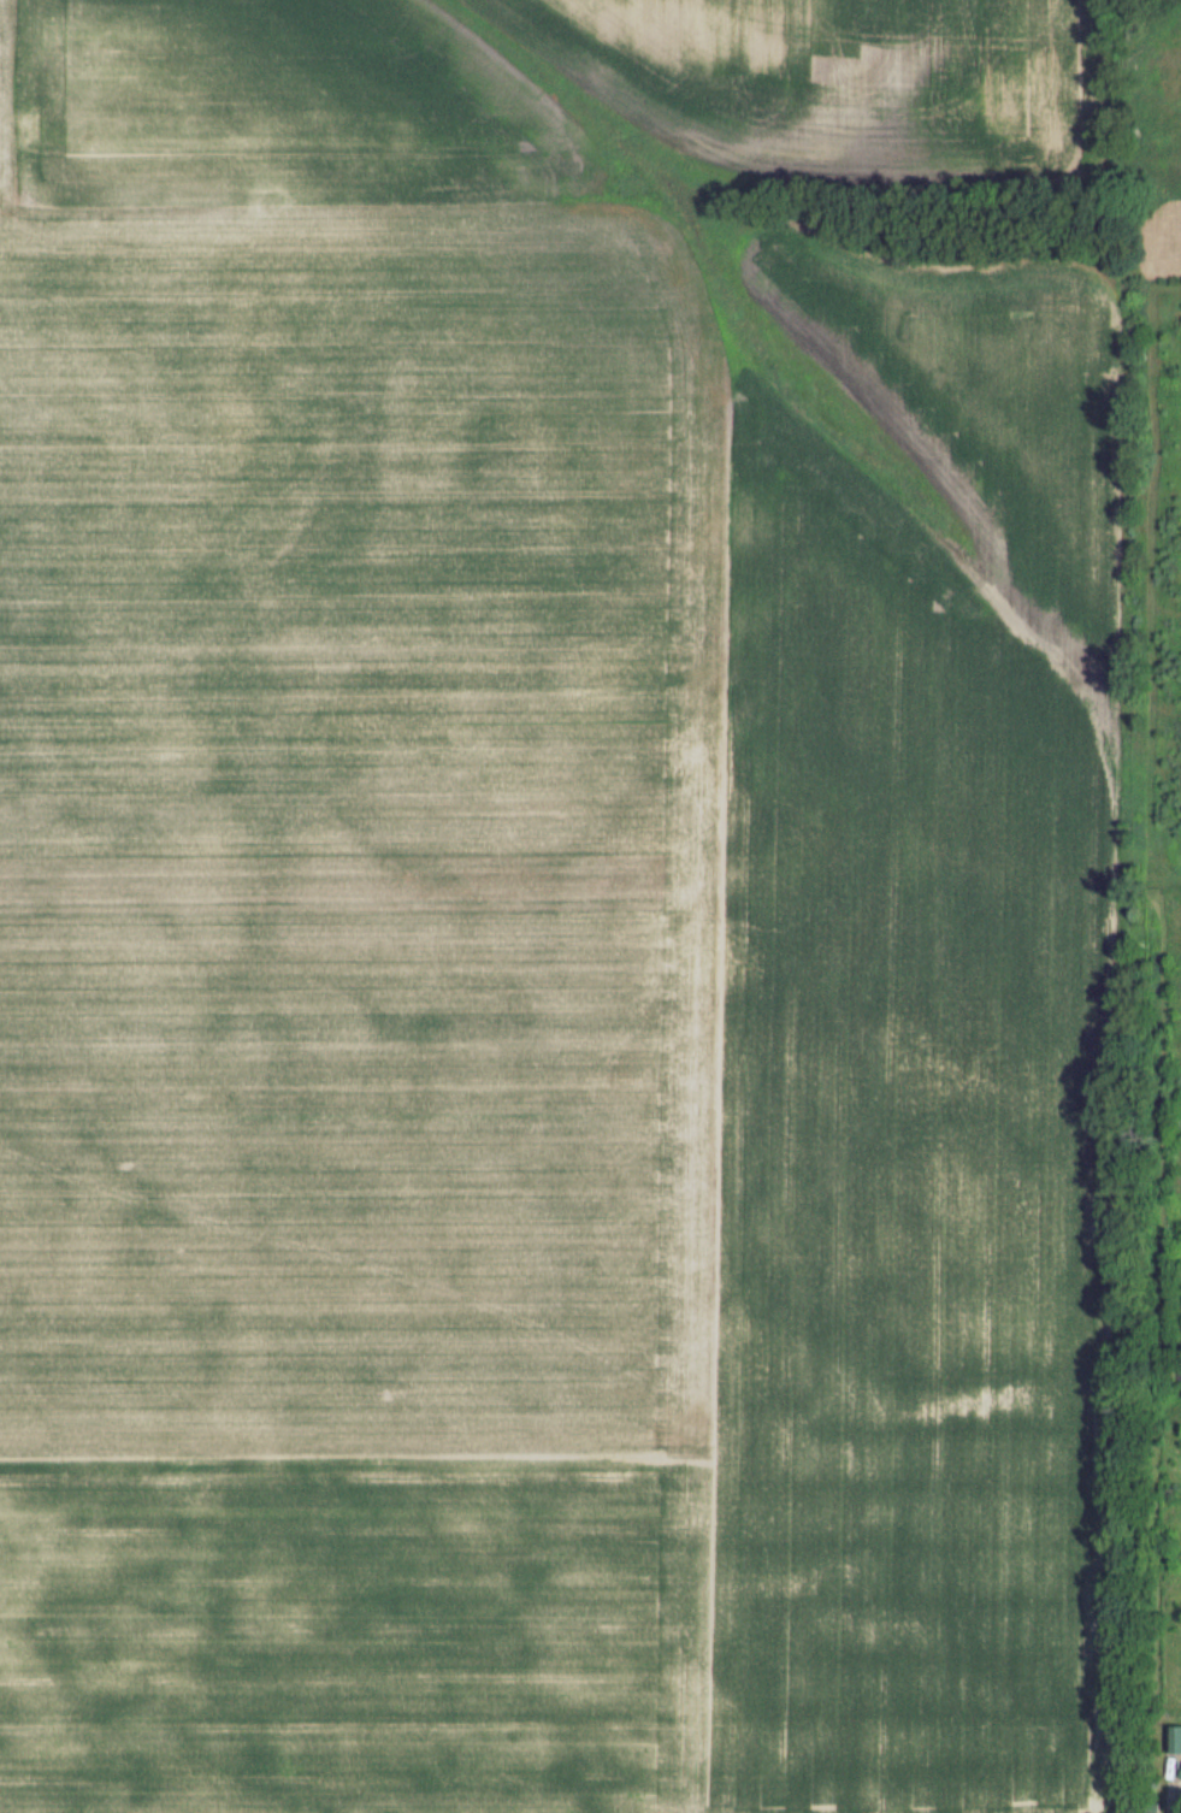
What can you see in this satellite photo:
building: (1173, 1740)
building: (1179, 1773)

